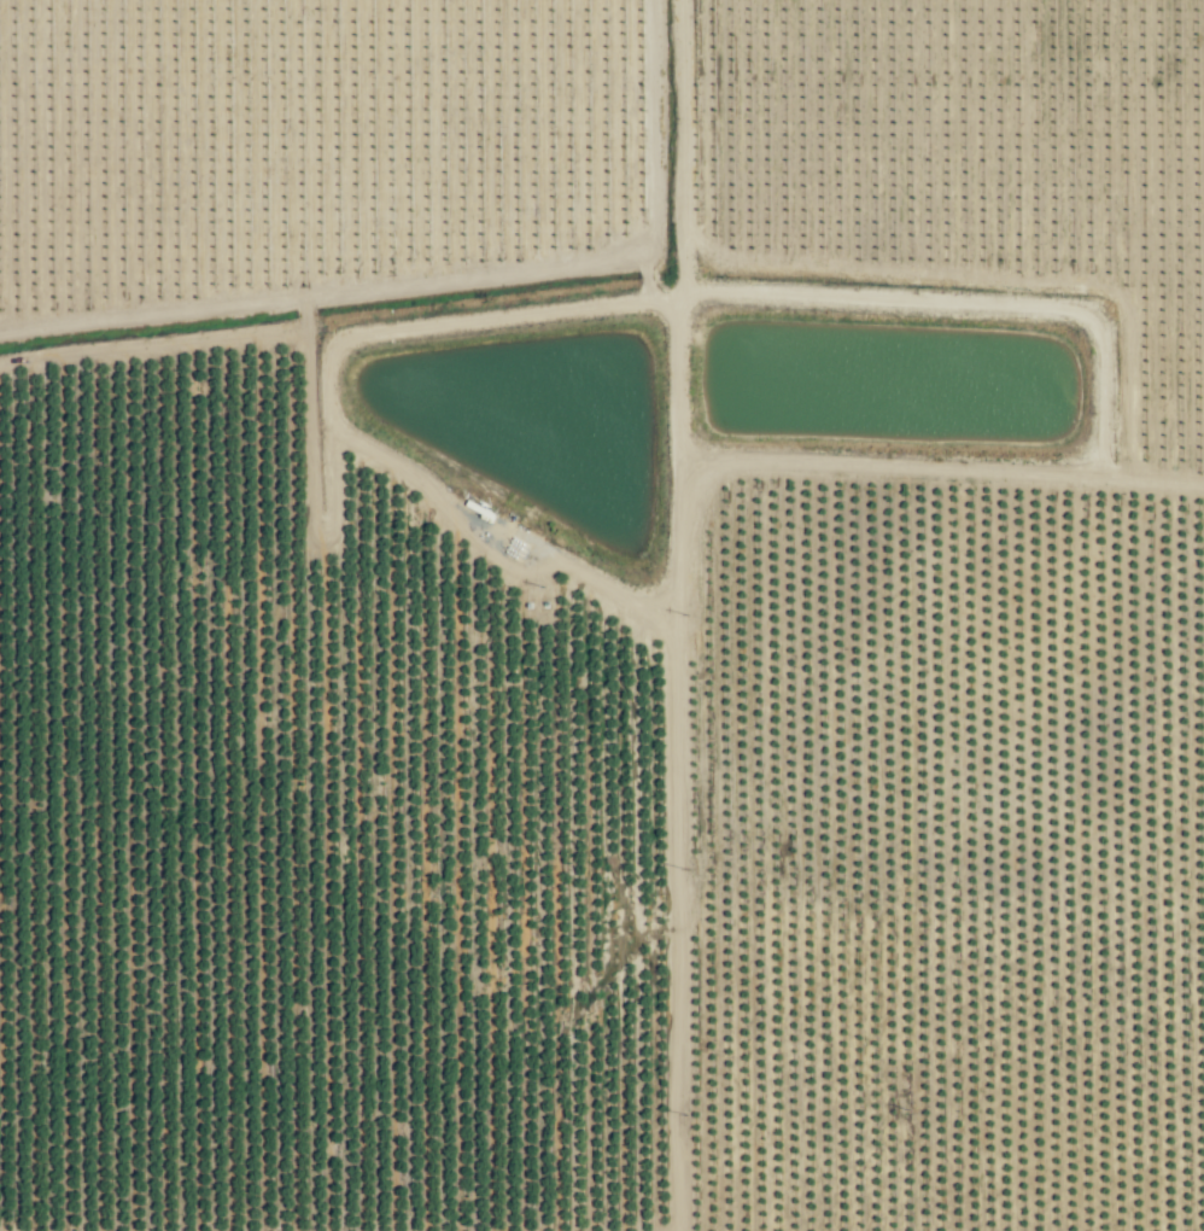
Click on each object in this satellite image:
crop: (602, 615)

